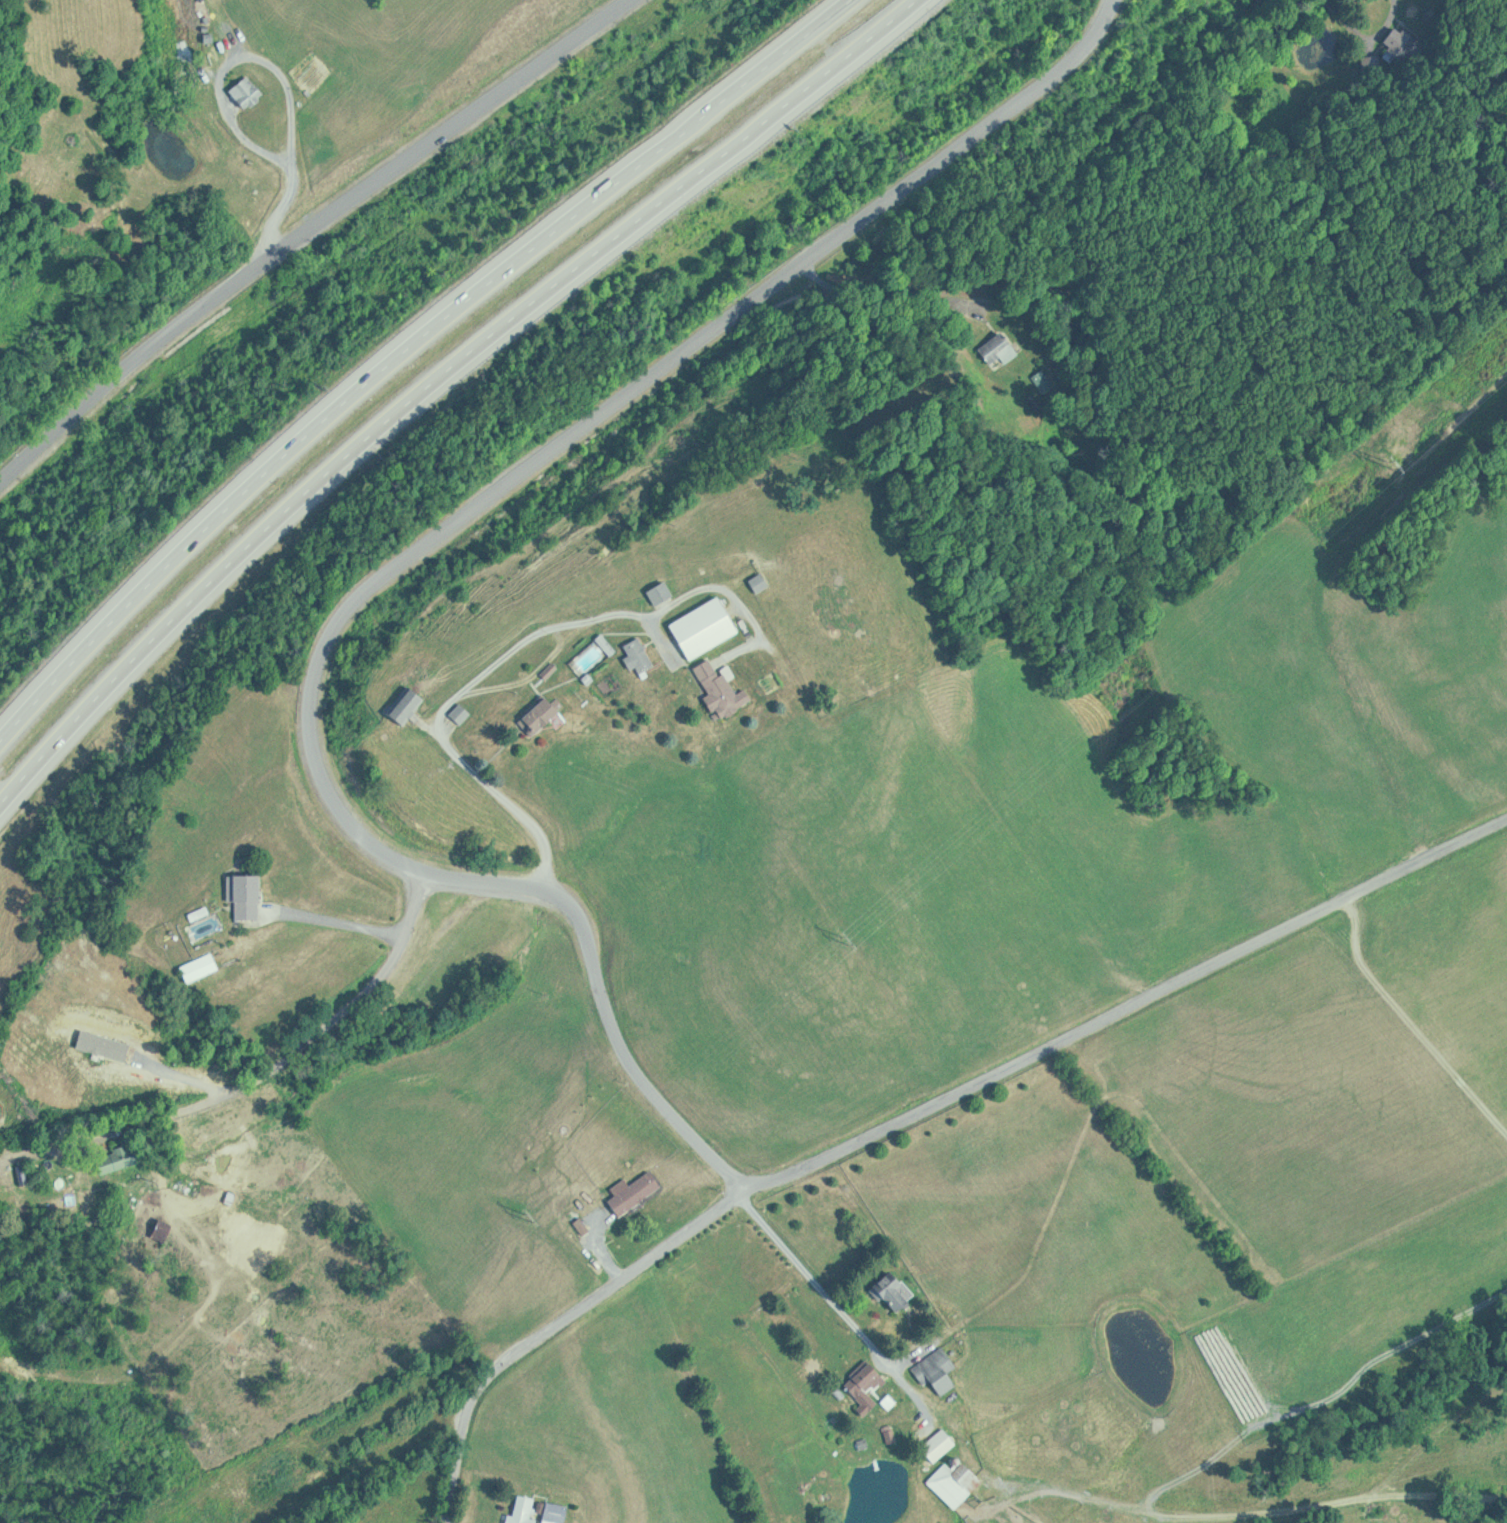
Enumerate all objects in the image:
road: (1392, 7)
building: (1399, 45)
building: (244, 90)
road: (224, 100)
road: (302, 230)
road: (409, 351)
road: (440, 379)
road: (608, 403)
building: (762, 582)
building: (663, 592)
building: (708, 627)
building: (641, 656)
building: (723, 690)
road: (449, 715)
building: (543, 716)
road: (0, 801)
building: (251, 896)
road: (356, 922)
power tower: (844, 949)
building: (203, 967)
road: (600, 998)
road: (1132, 1002)
road: (299, 1047)
building: (120, 1158)
building: (638, 1193)
power tower: (522, 1211)
building: (165, 1227)
road: (614, 1255)
building: (898, 1291)
road: (845, 1307)
road: (555, 1321)
building: (939, 1371)
building: (867, 1380)
building: (914, 1411)
building: (890, 1440)
building: (941, 1445)
building: (958, 1481)
building: (526, 1510)
building: (559, 1513)

